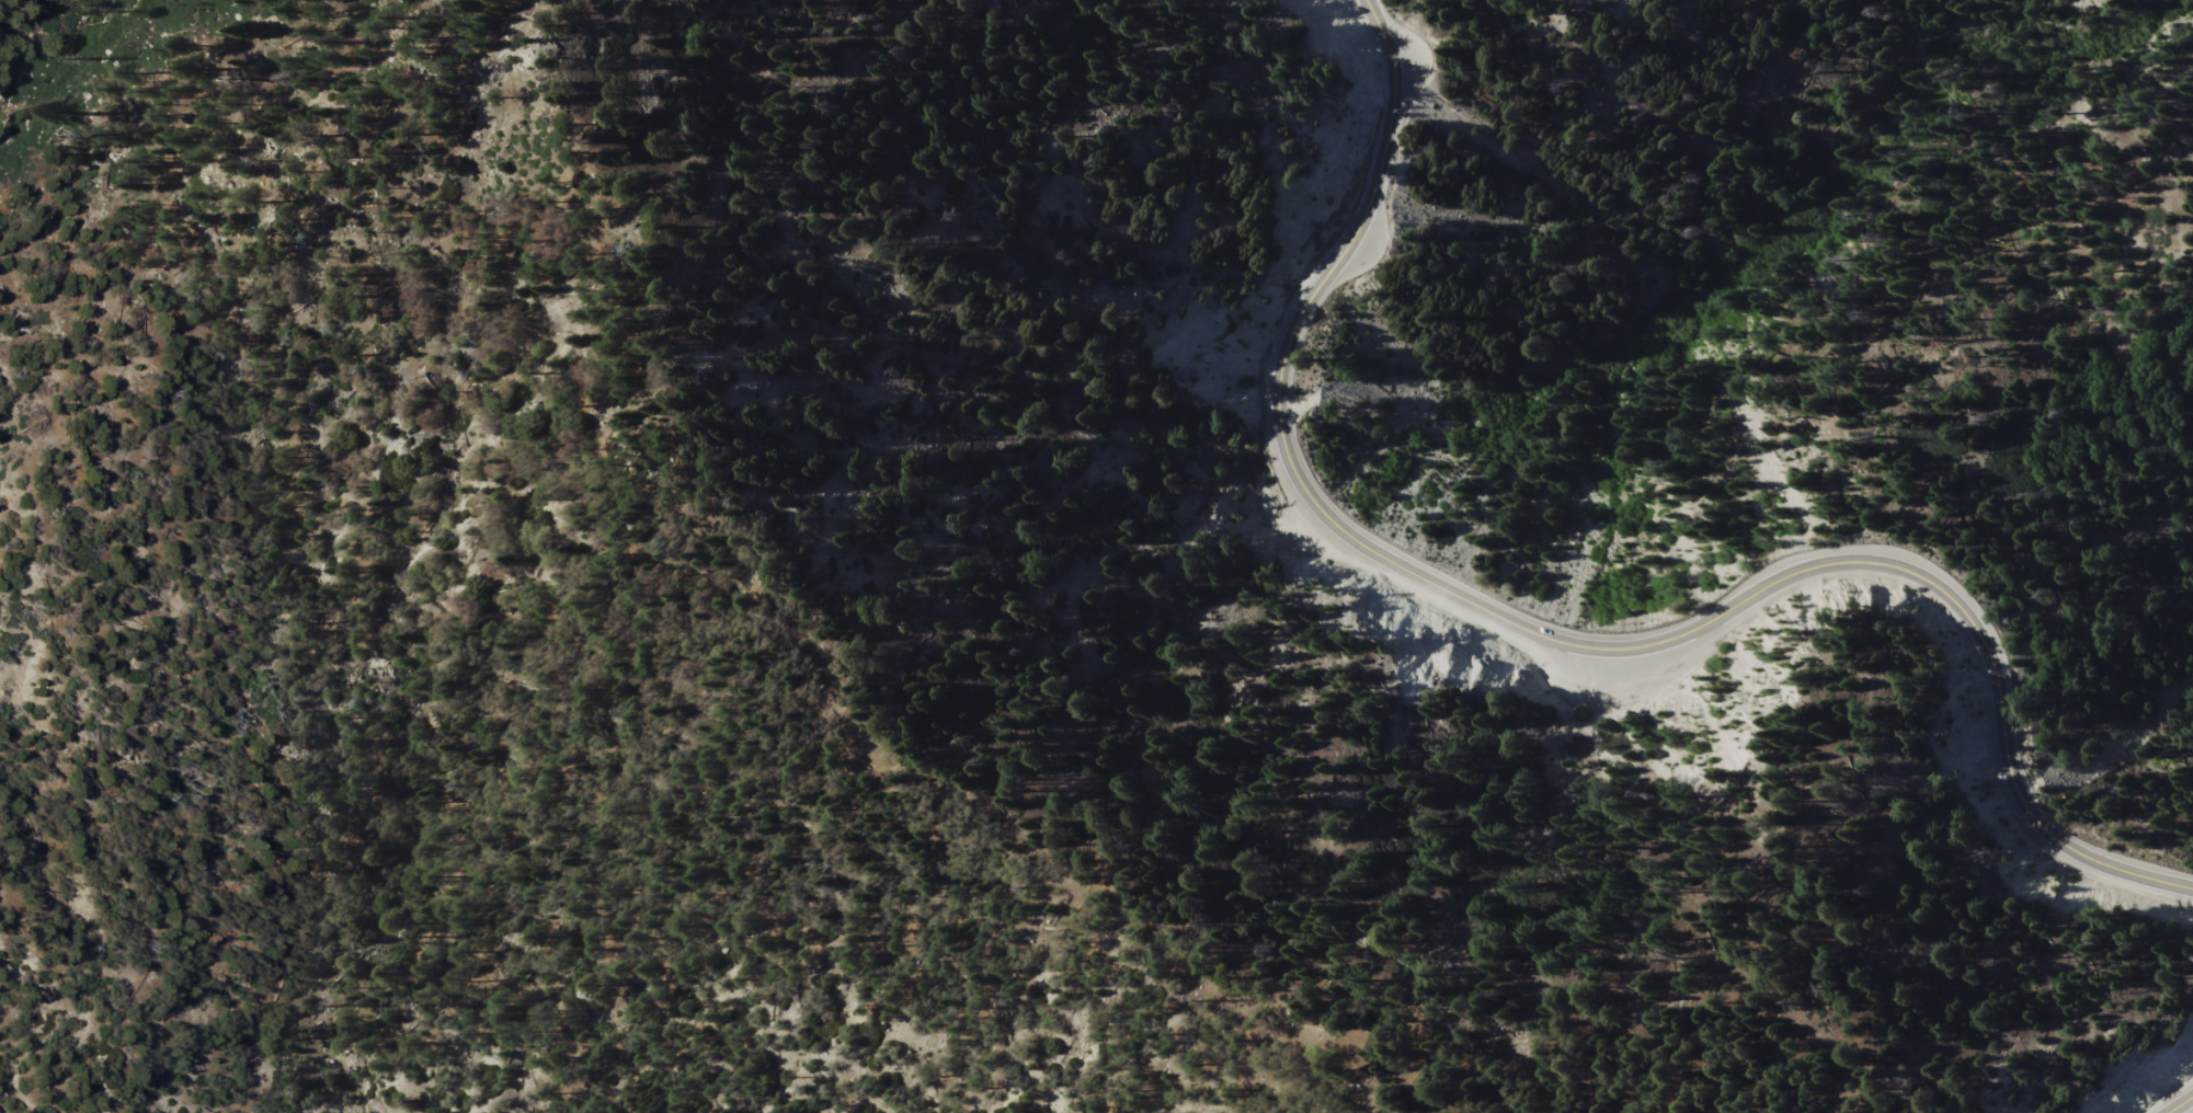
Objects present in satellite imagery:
road: (1371, 18)
road: (1389, 92)
road: (1368, 180)
road: (1362, 551)
road: (1981, 679)
road: (2178, 1102)

